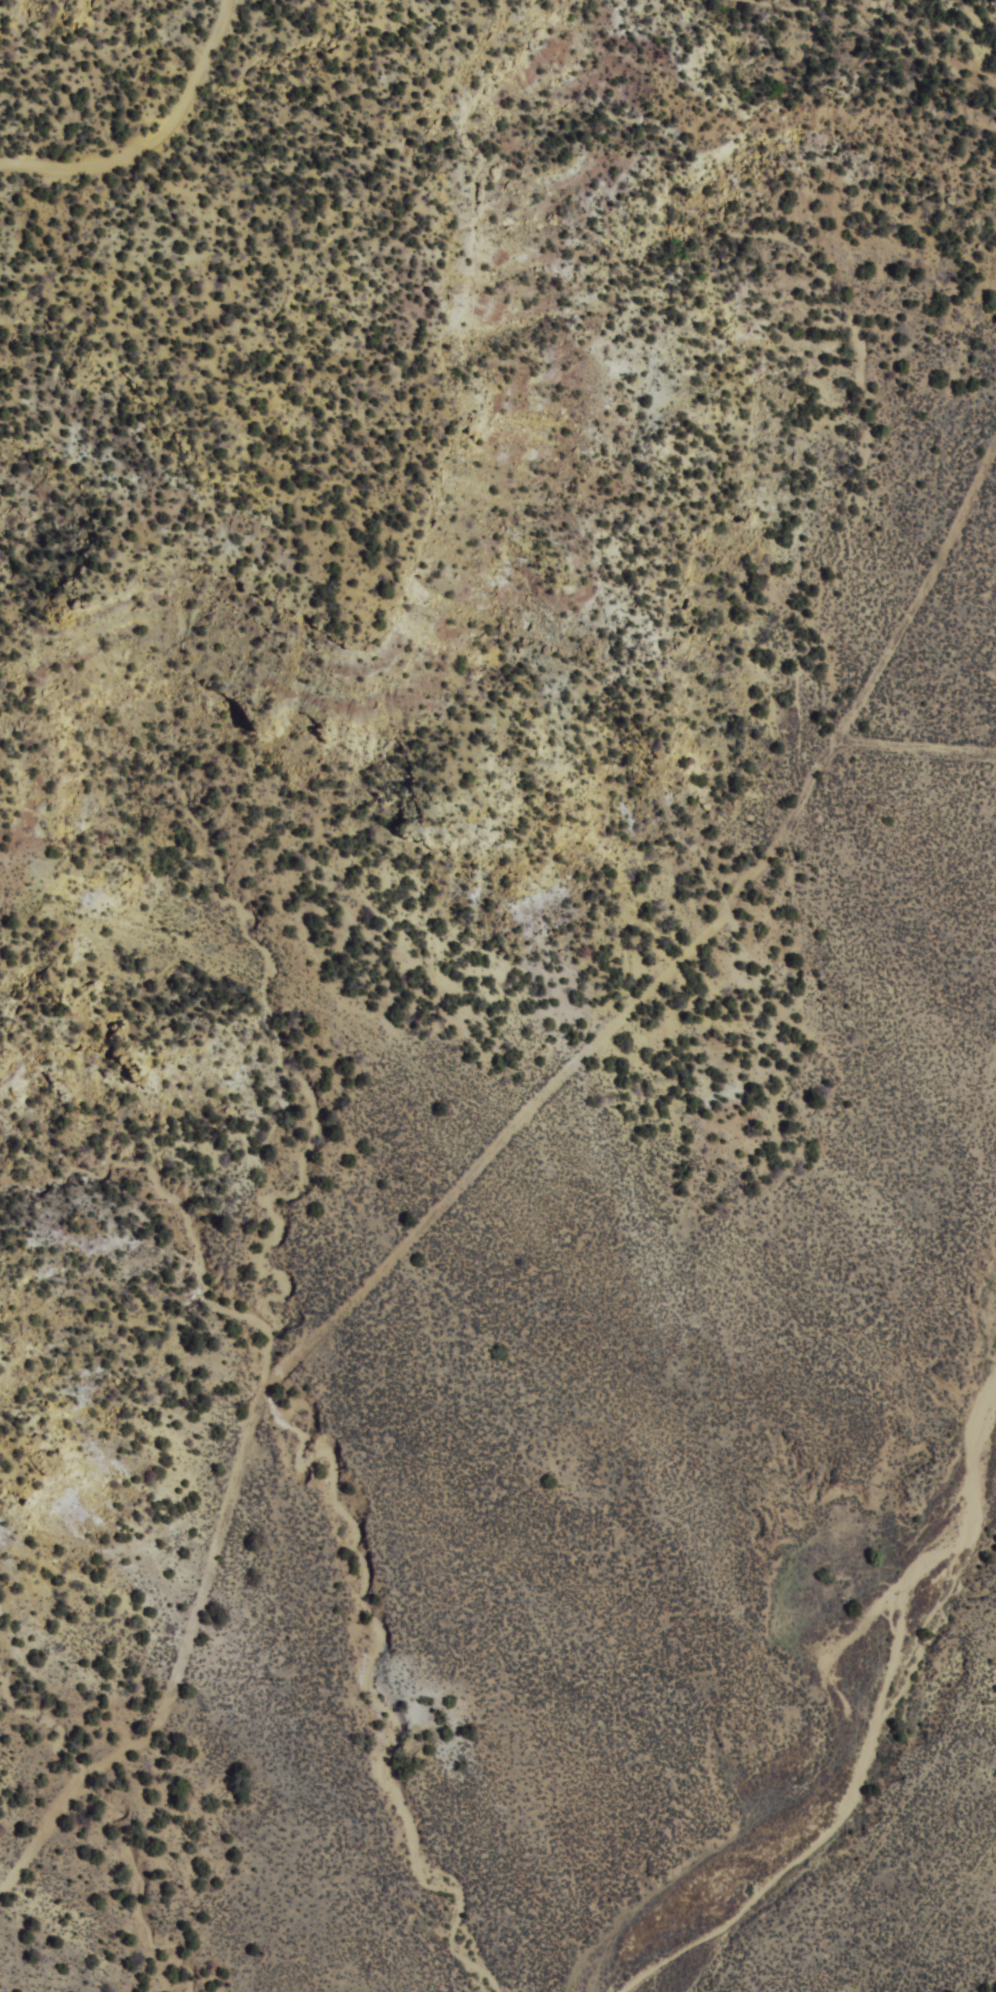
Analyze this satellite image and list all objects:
road: (144, 138)
road: (518, 1108)

